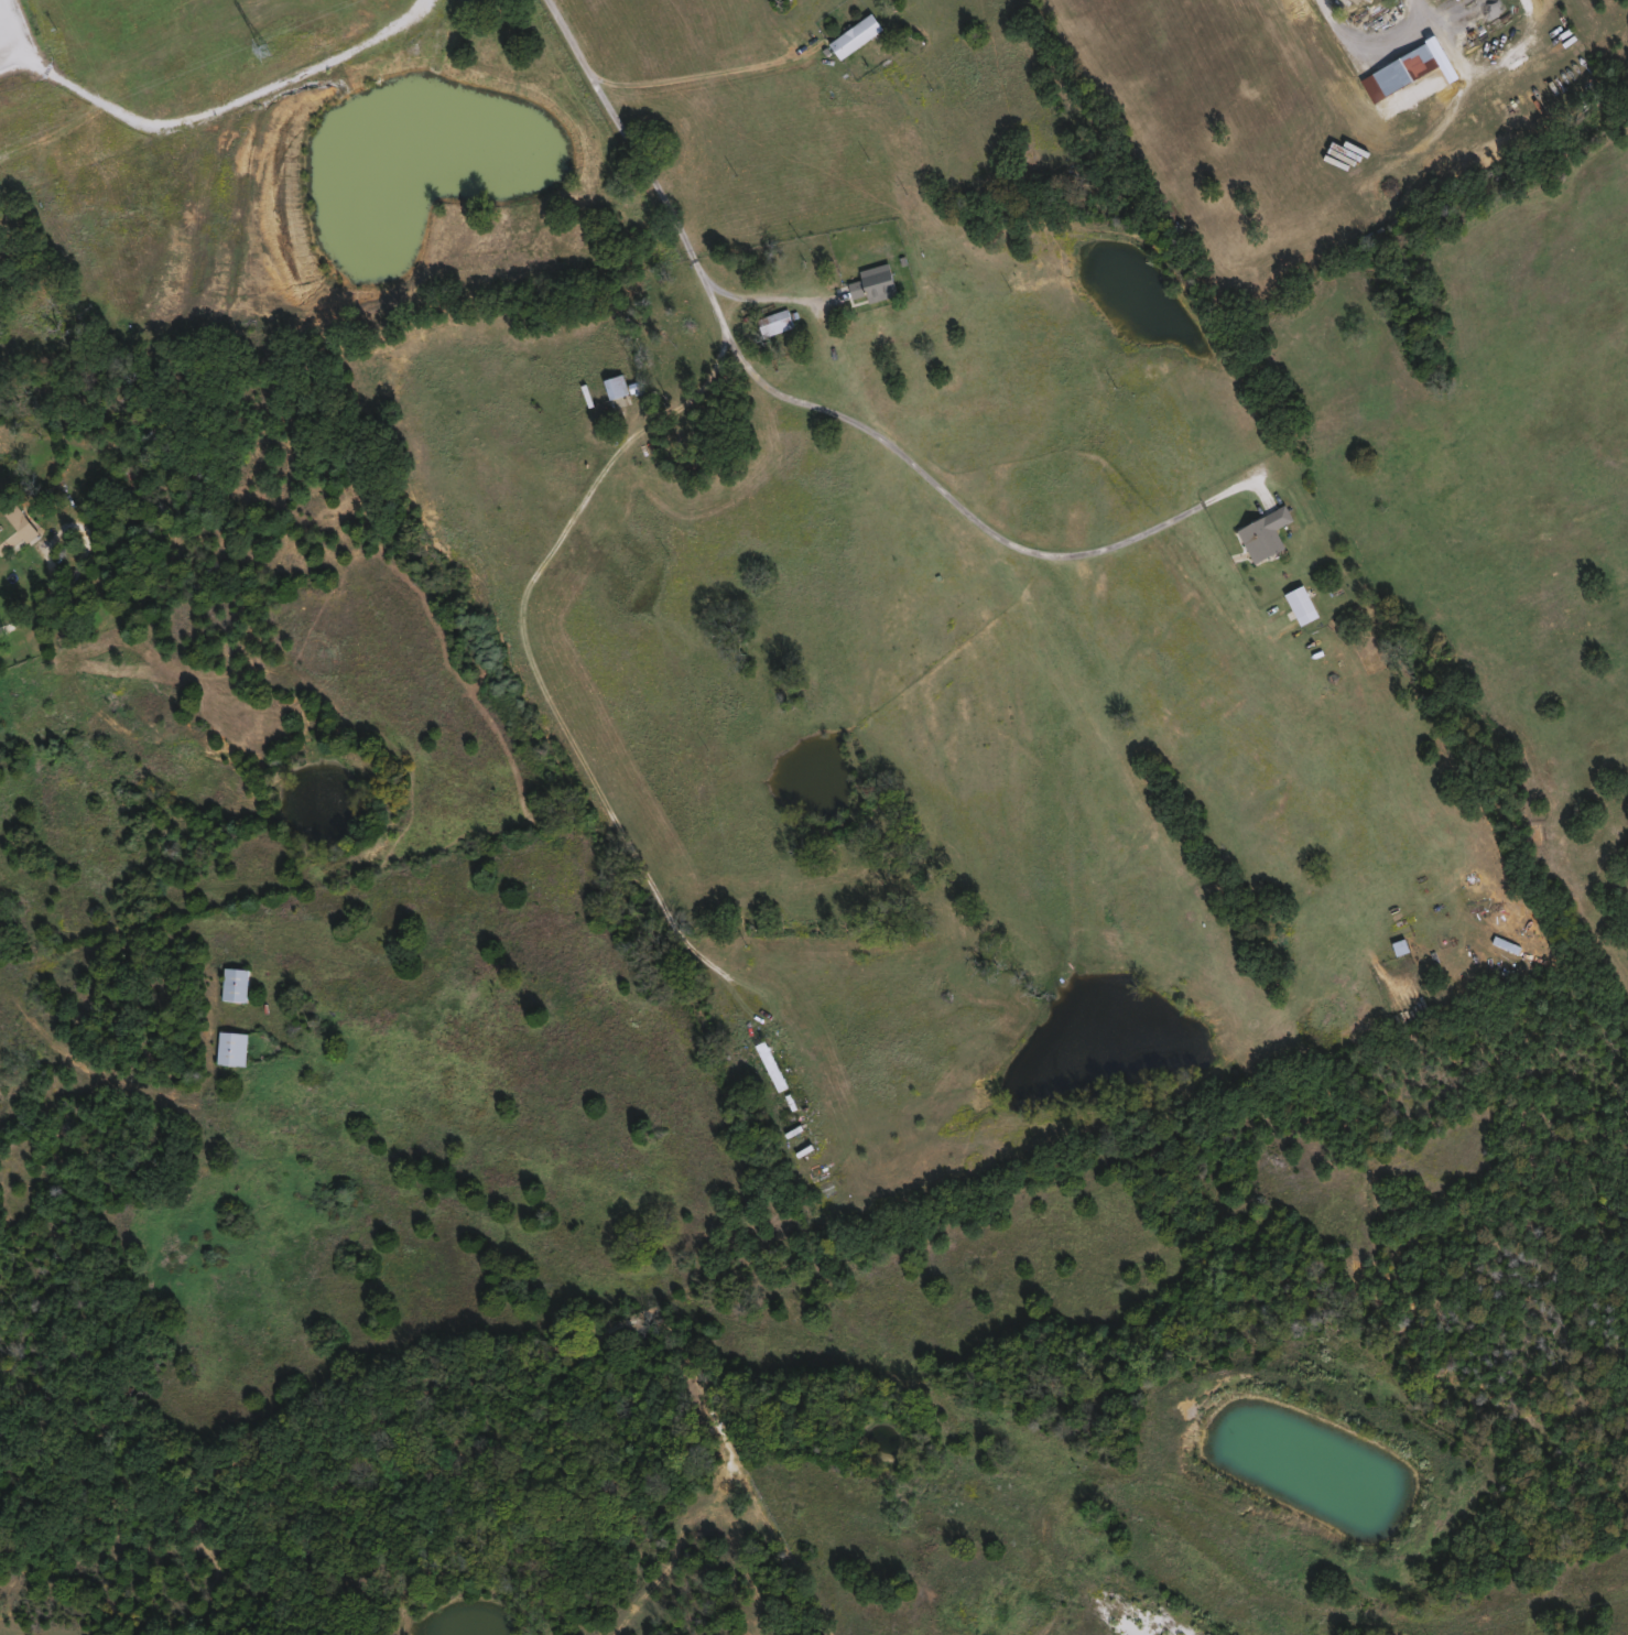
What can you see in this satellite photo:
building: (849, 34)
road: (1360, 47)
power tower: (261, 48)
road: (718, 69)
building: (1394, 69)
road: (216, 105)
road: (631, 137)
building: (860, 281)
road: (762, 296)
building: (772, 321)
building: (611, 385)
road: (926, 475)
building: (15, 533)
road: (12, 624)
road: (528, 657)
building: (1396, 945)
building: (240, 983)
building: (237, 1048)
building: (766, 1063)

